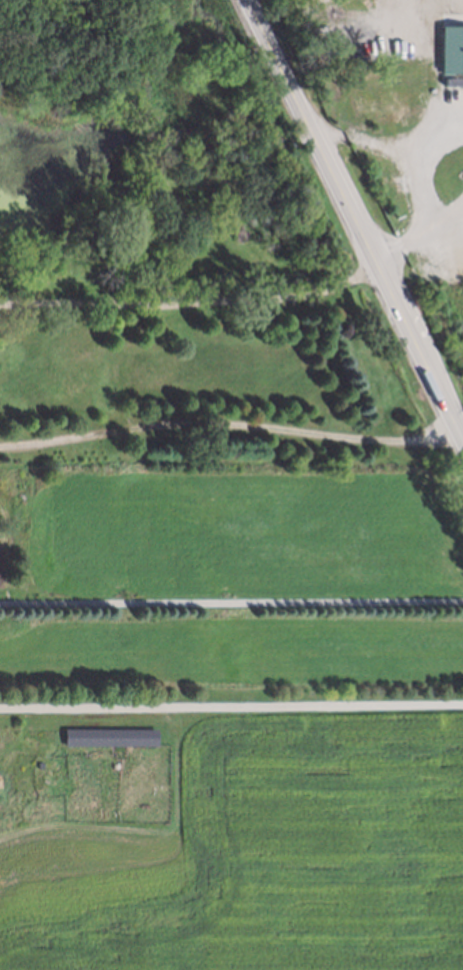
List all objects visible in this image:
building: (452, 51)
road: (279, 67)
road: (431, 119)
road: (413, 173)
road: (446, 217)
road: (387, 288)
road: (191, 301)
road: (228, 423)
building: (0, 525)
road: (231, 599)
road: (231, 703)
building: (110, 738)

